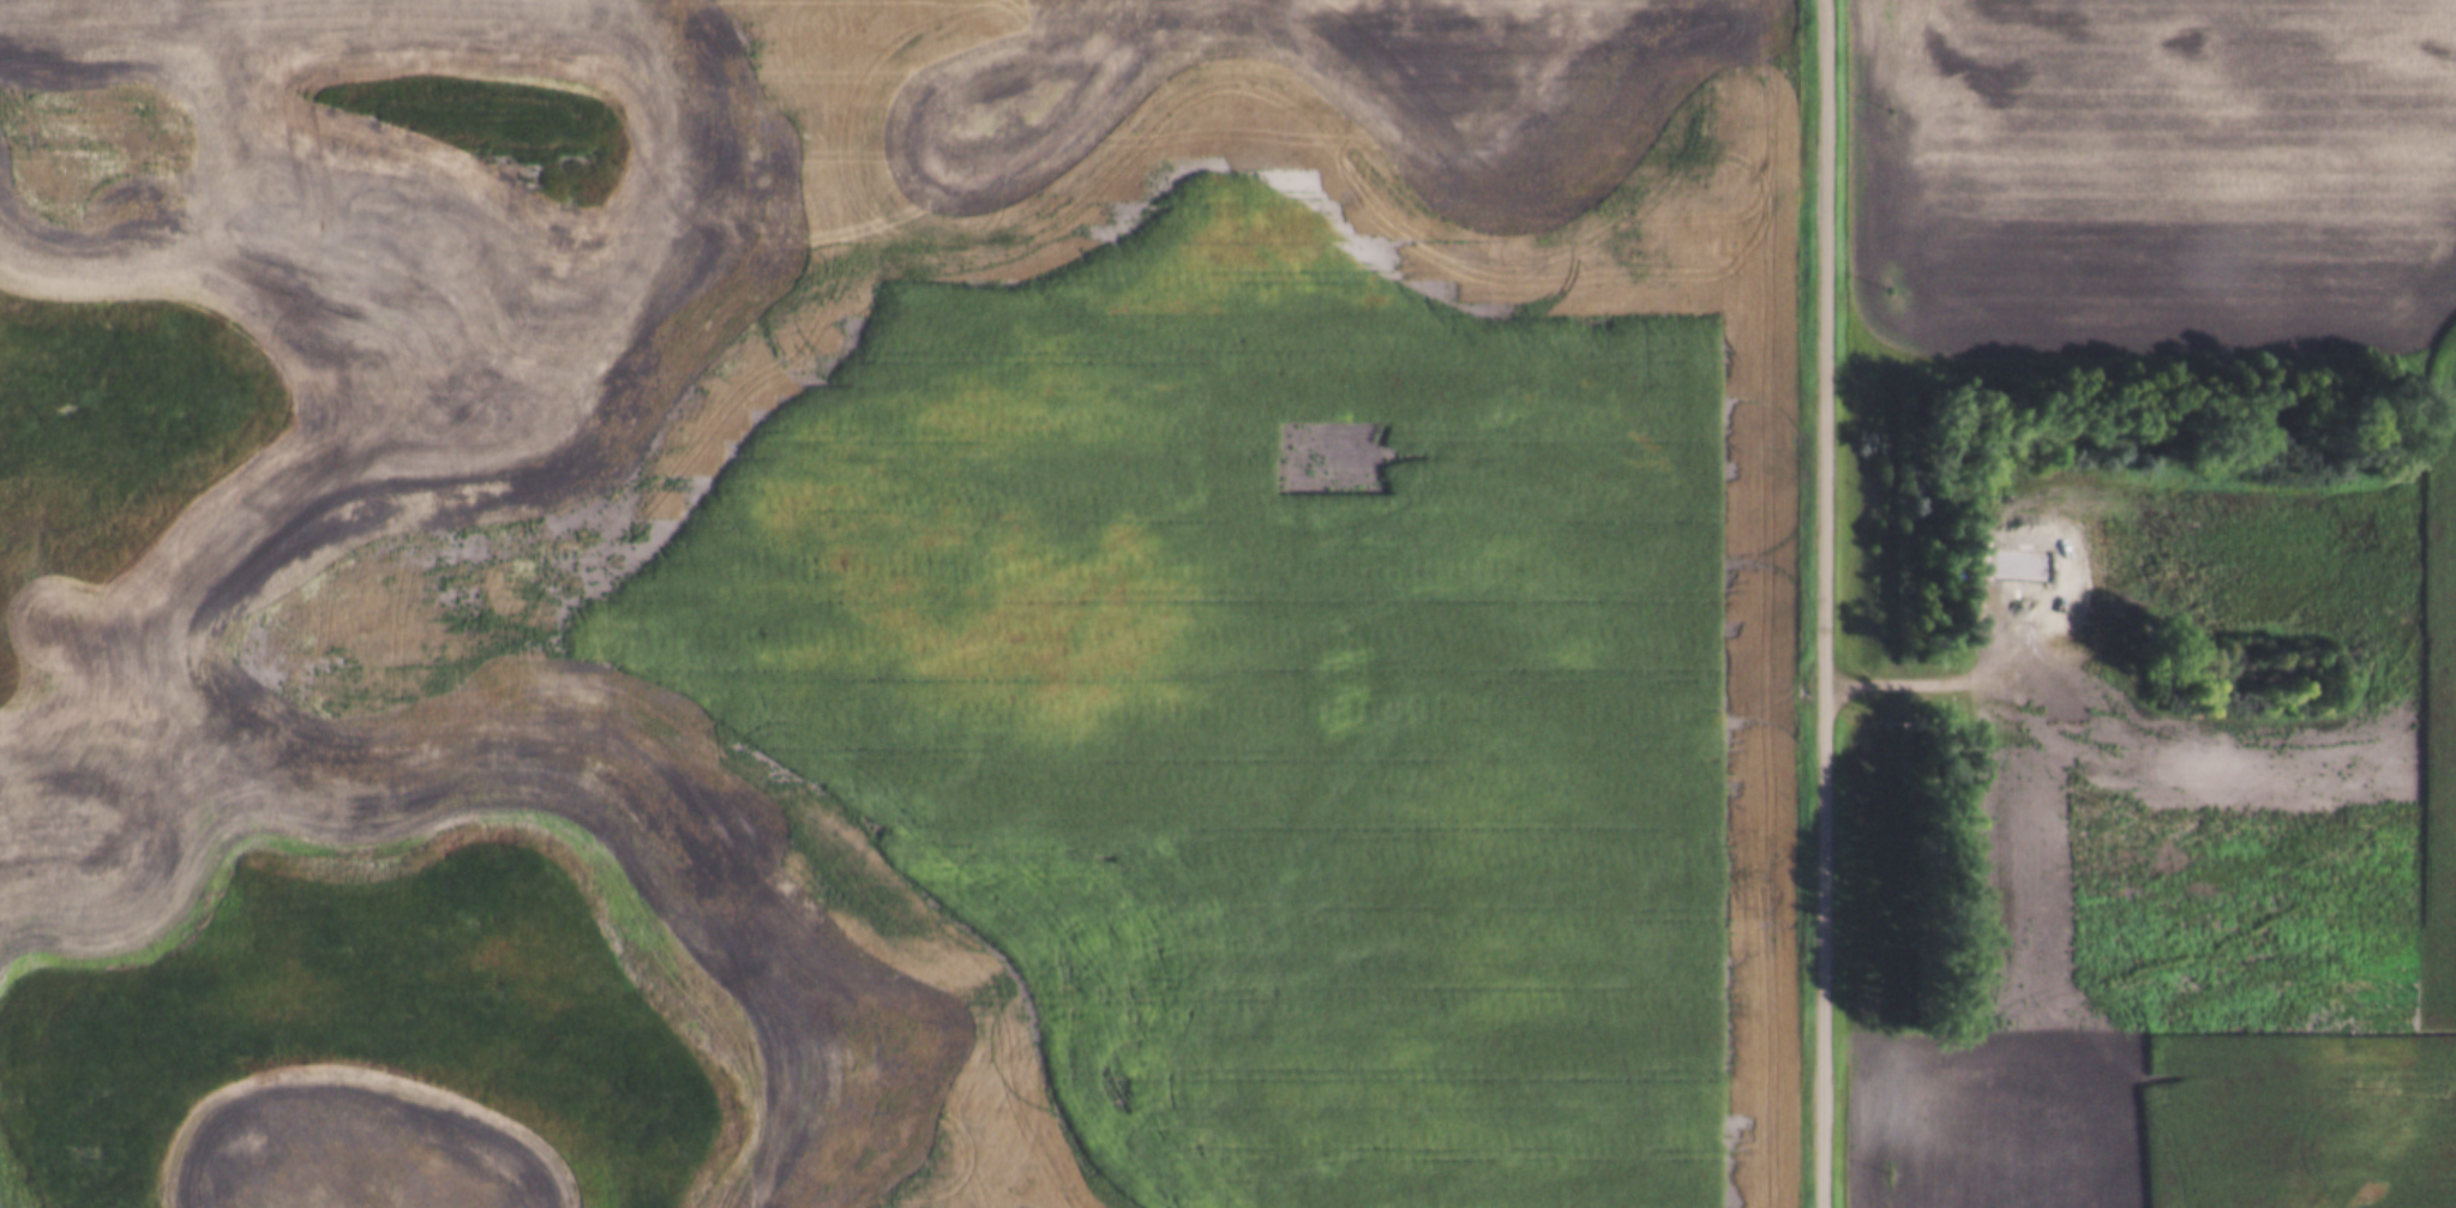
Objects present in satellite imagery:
road: (1826, 603)

